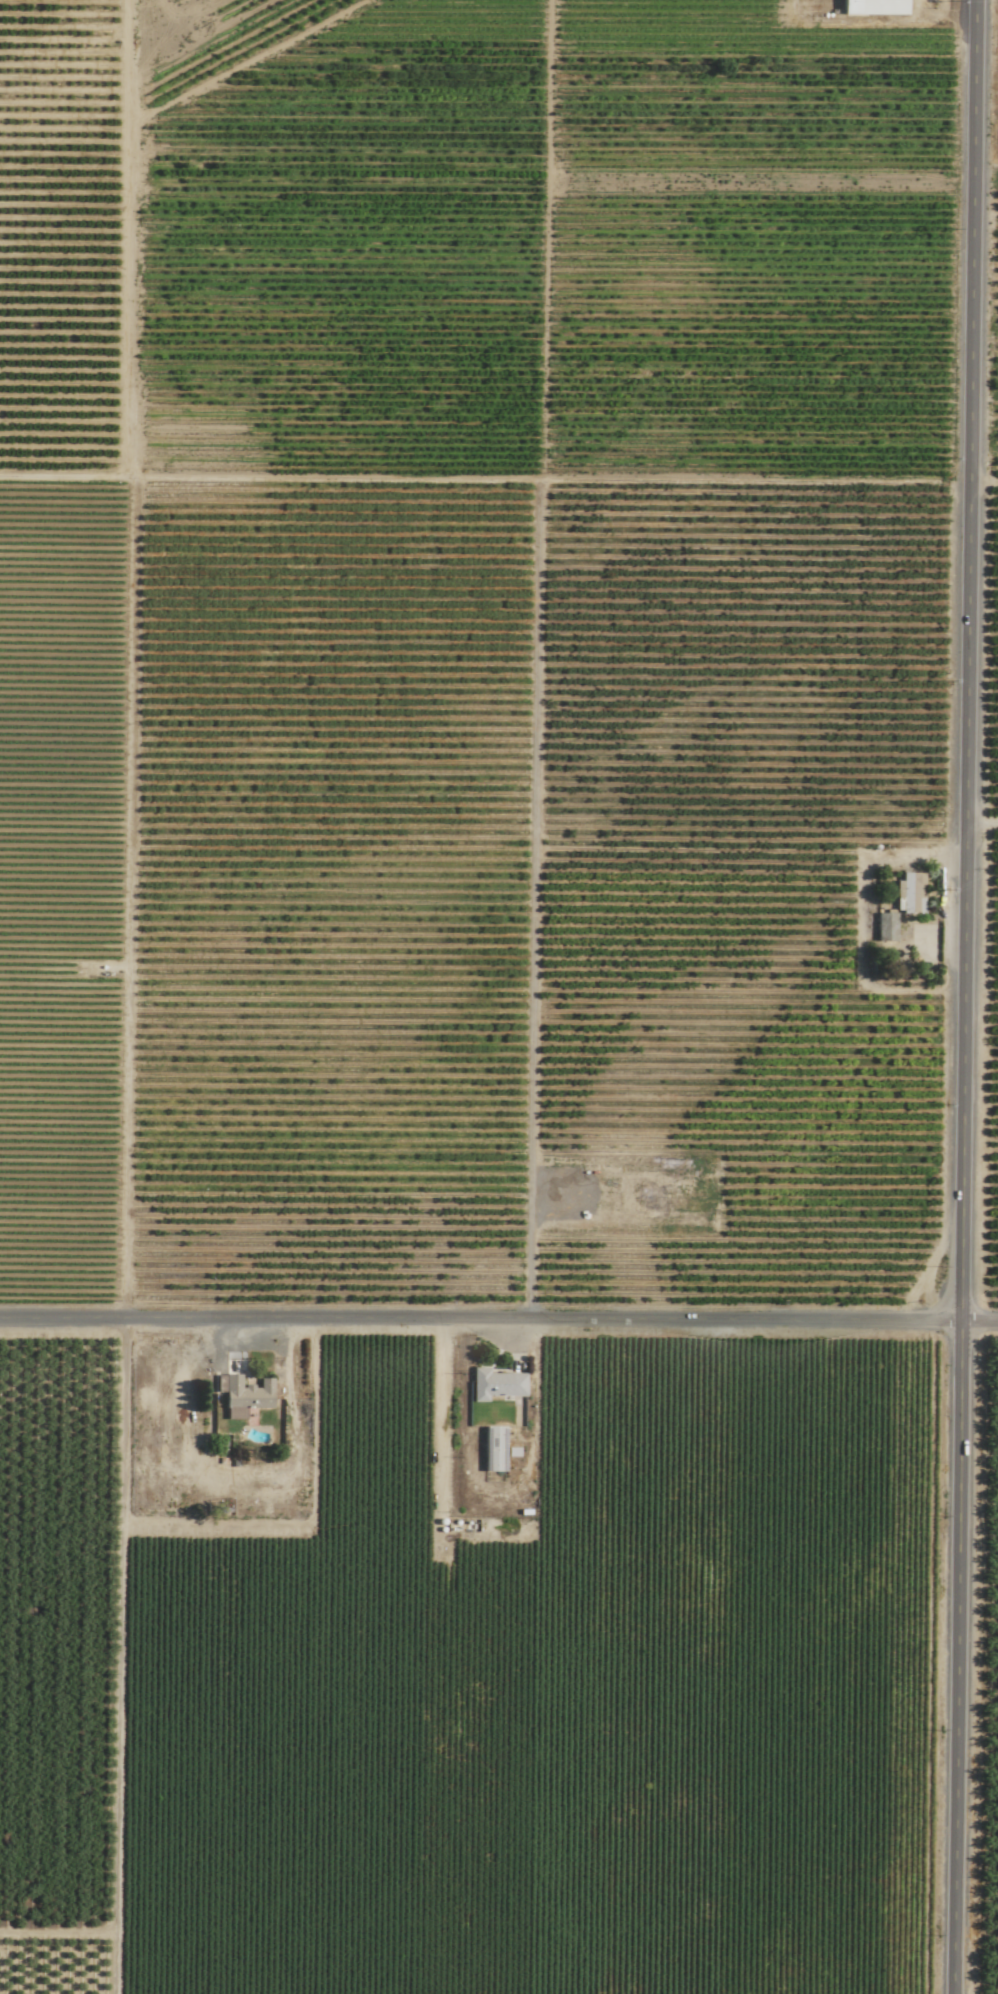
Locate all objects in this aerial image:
building: (874, 7)
road: (499, 483)
road: (980, 808)
building: (911, 889)
road: (960, 996)
crop: (499, 997)
road: (890, 1268)
road: (499, 1321)
building: (500, 1380)
building: (246, 1396)
building: (493, 1448)

